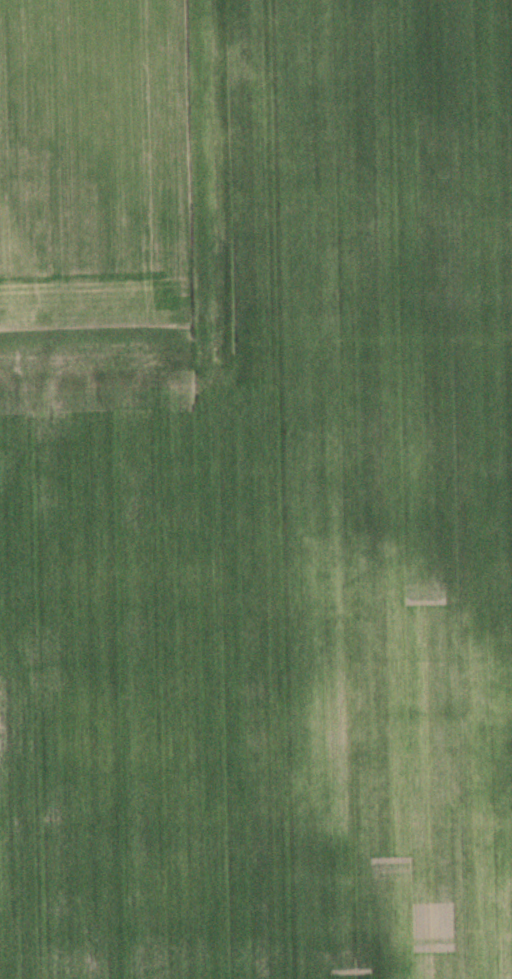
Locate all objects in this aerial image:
crop: (91, 164)
crop: (278, 533)

